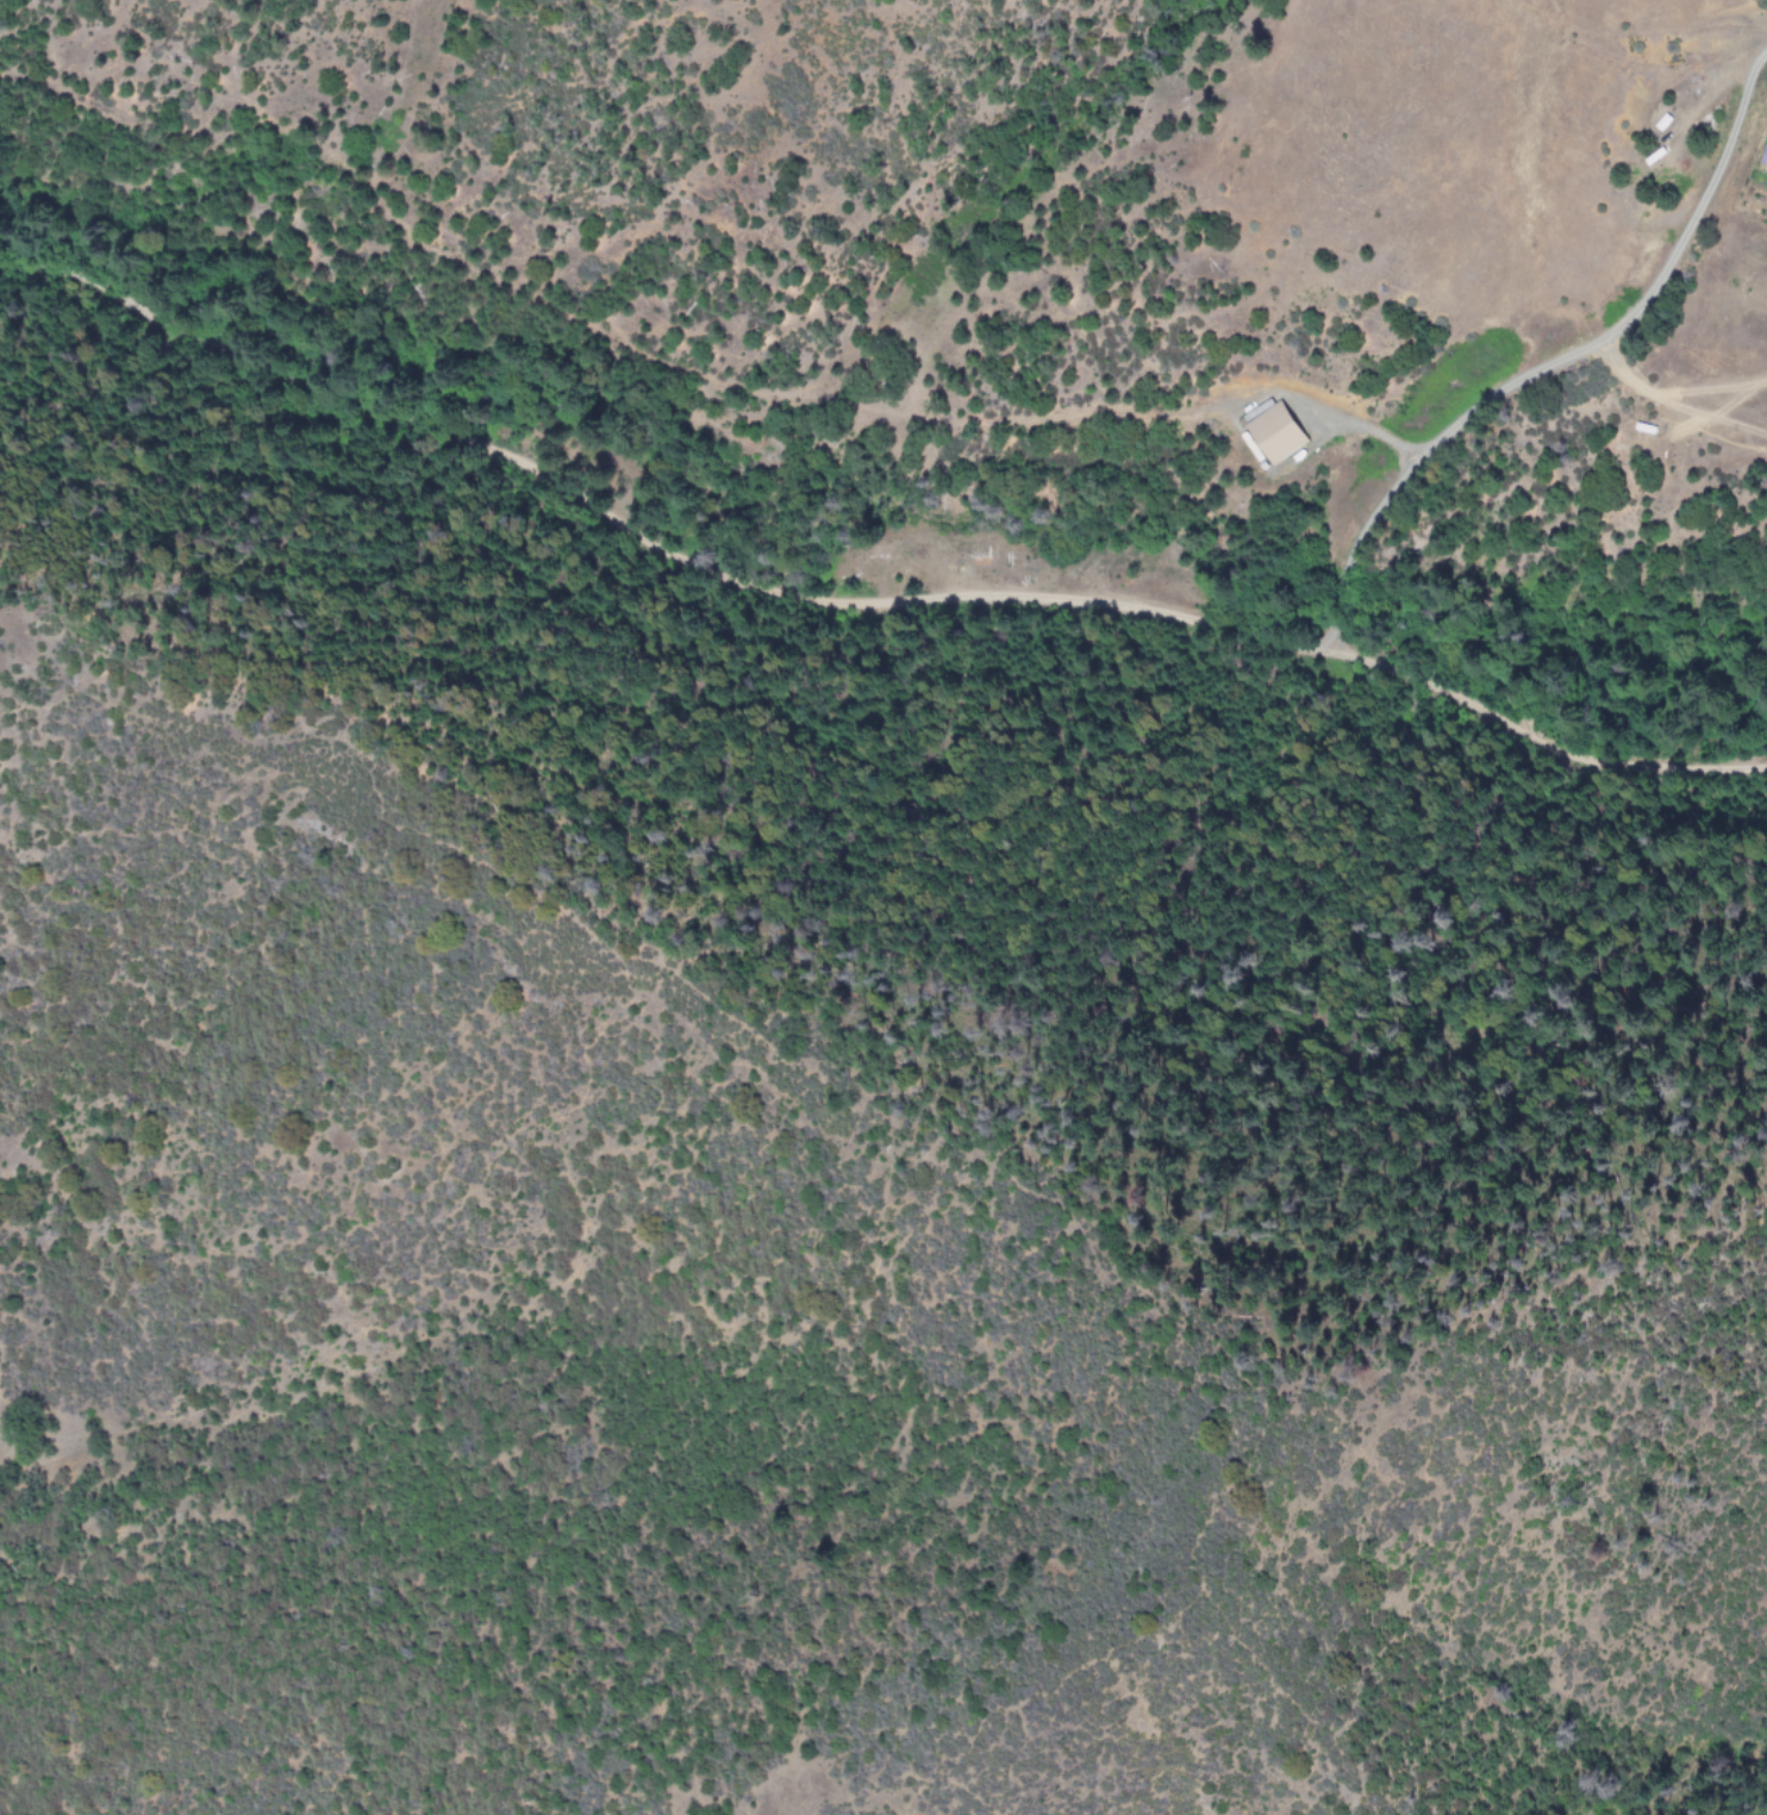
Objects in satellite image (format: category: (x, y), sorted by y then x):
road: (1307, 304)
building: (1284, 432)
road: (864, 574)

